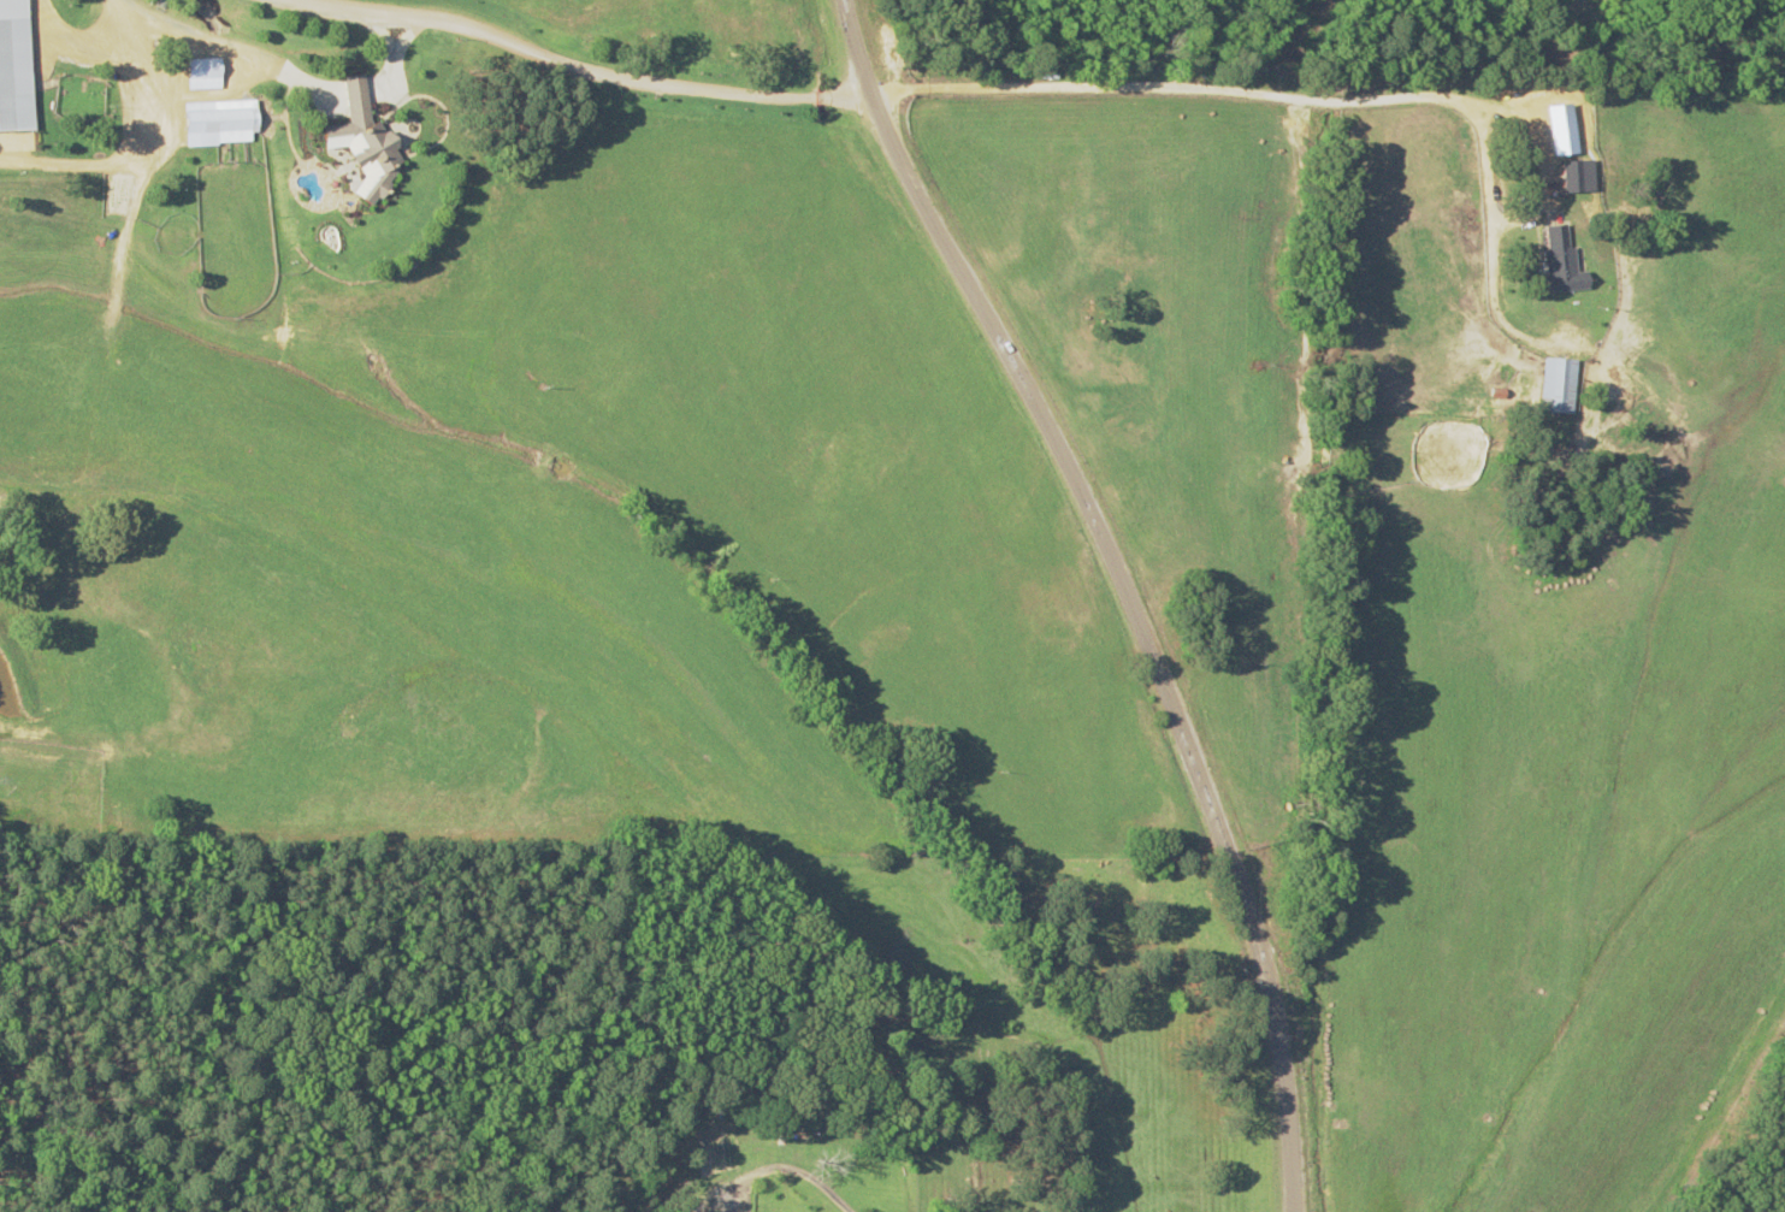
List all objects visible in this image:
building: (10, 67)
building: (197, 72)
road: (1312, 96)
building: (214, 122)
building: (356, 142)
building: (1567, 176)
building: (1554, 260)
building: (1554, 385)
road: (1122, 586)

